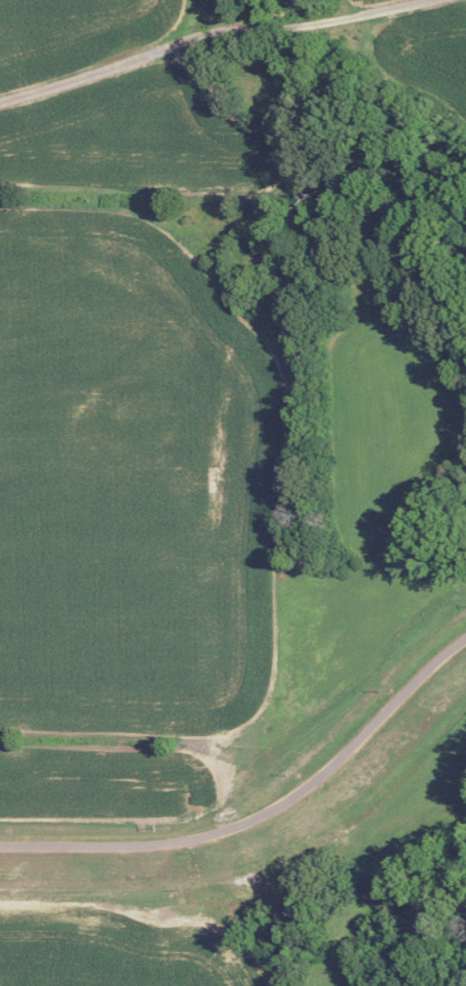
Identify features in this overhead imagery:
road: (263, 812)

